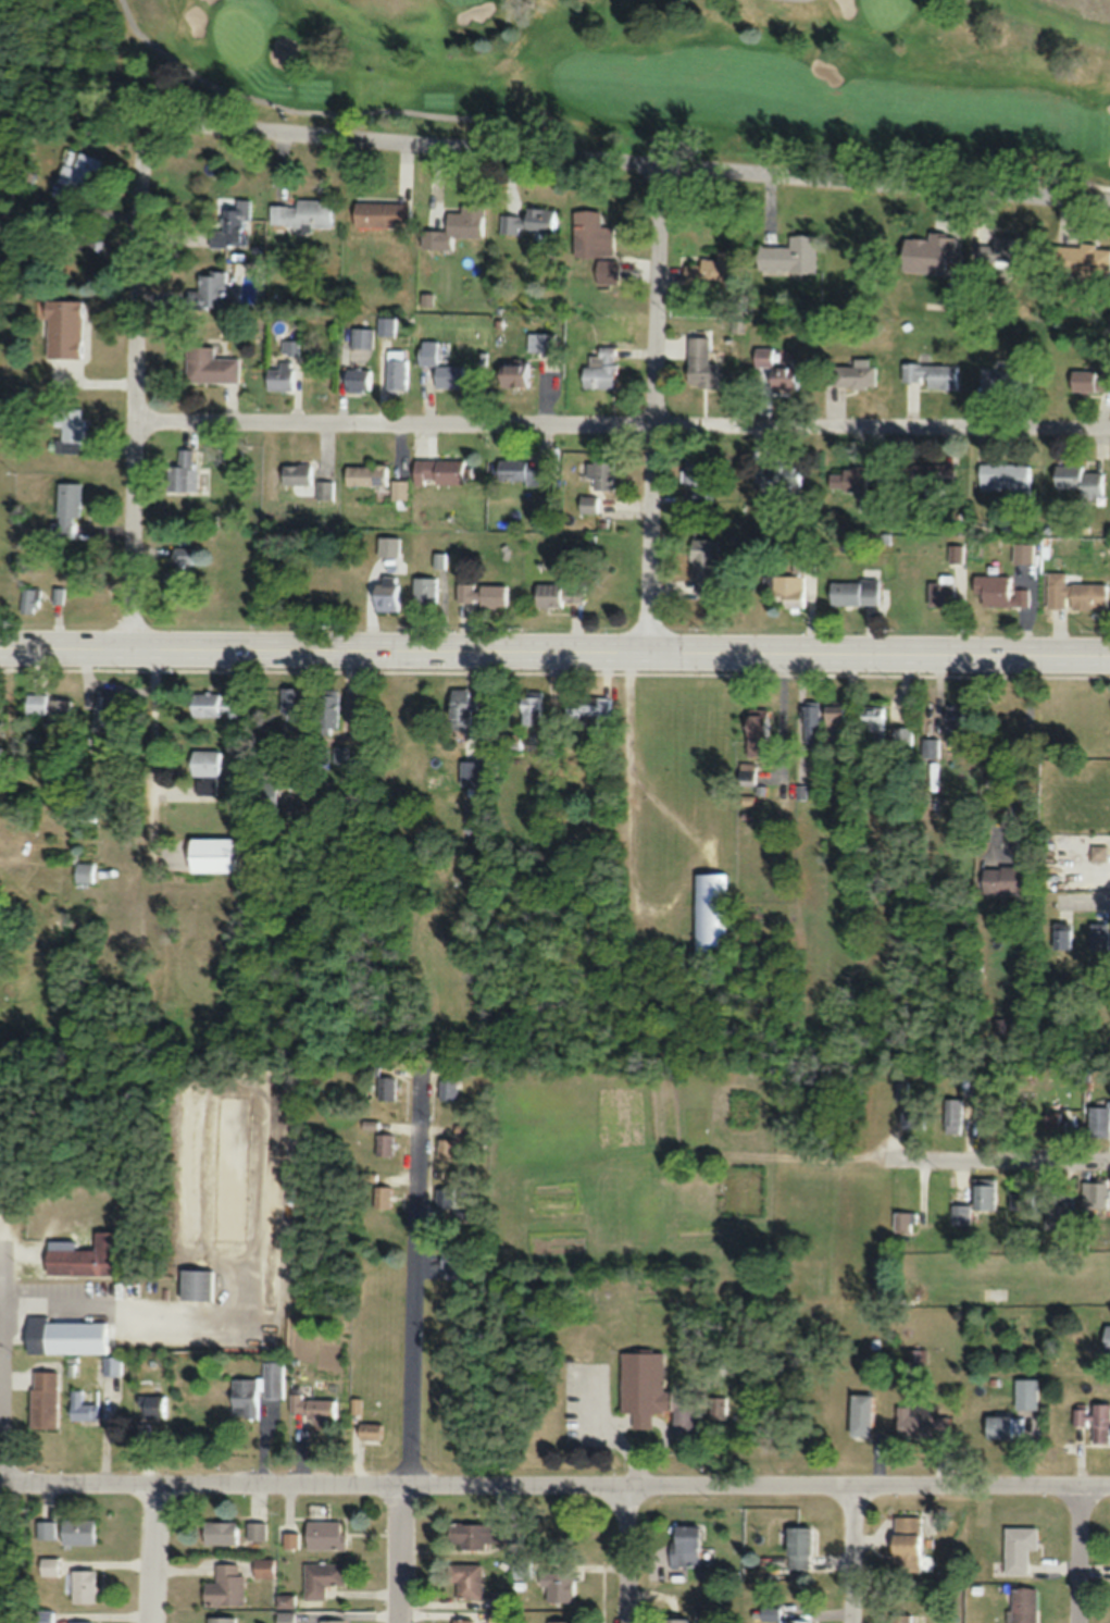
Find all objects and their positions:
park: (886, 11)
park: (241, 33)
park: (647, 74)
road: (278, 107)
road: (634, 161)
building: (77, 176)
building: (301, 213)
building: (383, 213)
building: (531, 221)
building: (233, 224)
building: (456, 226)
building: (590, 233)
building: (927, 250)
building: (1005, 250)
building: (789, 255)
building: (1081, 259)
building: (710, 271)
building: (208, 289)
building: (387, 324)
building: (63, 329)
building: (542, 343)
building: (361, 344)
building: (701, 362)
building: (209, 366)
building: (440, 367)
building: (396, 369)
building: (601, 369)
building: (777, 370)
building: (856, 373)
building: (932, 373)
building: (513, 374)
building: (1006, 376)
building: (277, 377)
building: (357, 380)
building: (1086, 380)
road: (136, 384)
road: (654, 408)
building: (67, 430)
road: (623, 432)
building: (182, 471)
building: (439, 471)
building: (522, 471)
building: (297, 473)
building: (365, 474)
building: (600, 474)
building: (697, 475)
building: (782, 475)
building: (928, 476)
building: (1005, 476)
building: (849, 478)
building: (1077, 480)
building: (324, 481)
building: (399, 490)
building: (588, 503)
building: (66, 506)
building: (703, 566)
building: (177, 572)
building: (424, 590)
building: (786, 590)
building: (853, 591)
building: (941, 591)
building: (999, 591)
building: (1073, 592)
building: (559, 593)
building: (386, 594)
building: (481, 594)
building: (28, 598)
road: (554, 652)
building: (290, 704)
building: (214, 705)
building: (49, 706)
building: (461, 707)
building: (327, 708)
building: (531, 709)
building: (587, 710)
building: (109, 713)
building: (811, 721)
building: (834, 722)
building: (873, 722)
building: (953, 722)
building: (756, 724)
building: (901, 739)
building: (510, 742)
building: (930, 747)
building: (340, 754)
building: (271, 765)
building: (205, 770)
building: (848, 793)
building: (267, 795)
road: (157, 800)
building: (1097, 853)
building: (210, 854)
building: (1003, 879)
road: (1085, 899)
building: (710, 910)
building: (1061, 934)
building: (1098, 936)
building: (997, 1028)
building: (387, 1087)
building: (449, 1089)
building: (902, 1090)
building: (952, 1114)
building: (912, 1117)
building: (1098, 1118)
building: (1052, 1122)
building: (384, 1144)
building: (446, 1148)
road: (1000, 1160)
building: (983, 1192)
building: (1095, 1194)
building: (384, 1197)
building: (448, 1197)
building: (1061, 1212)
building: (960, 1215)
building: (905, 1219)
building: (83, 1256)
road: (417, 1280)
building: (198, 1285)
building: (64, 1336)
building: (1106, 1337)
road: (2, 1348)
building: (916, 1354)
building: (112, 1364)
building: (652, 1391)
building: (246, 1397)
building: (42, 1399)
building: (154, 1405)
building: (82, 1407)
building: (317, 1407)
building: (859, 1413)
building: (1096, 1421)
building: (920, 1422)
building: (997, 1426)
building: (370, 1432)
road: (554, 1478)
building: (45, 1529)
building: (257, 1529)
building: (76, 1531)
building: (220, 1532)
building: (324, 1534)
building: (482, 1534)
building: (290, 1539)
building: (906, 1543)
building: (683, 1544)
building: (796, 1547)
road: (152, 1549)
road: (401, 1549)
building: (1017, 1549)
road: (625, 1551)
road: (852, 1552)
road: (1078, 1552)
building: (48, 1566)
building: (263, 1566)
building: (321, 1577)
building: (466, 1581)
building: (225, 1585)
building: (558, 1585)
building: (82, 1586)
building: (1021, 1605)
building: (42, 1615)
building: (900, 1618)
building: (222, 1619)
building: (674, 1620)
building: (795, 1621)
building: (79, 1622)
building: (332, 1622)
building: (460, 1622)
building: (559, 1622)

